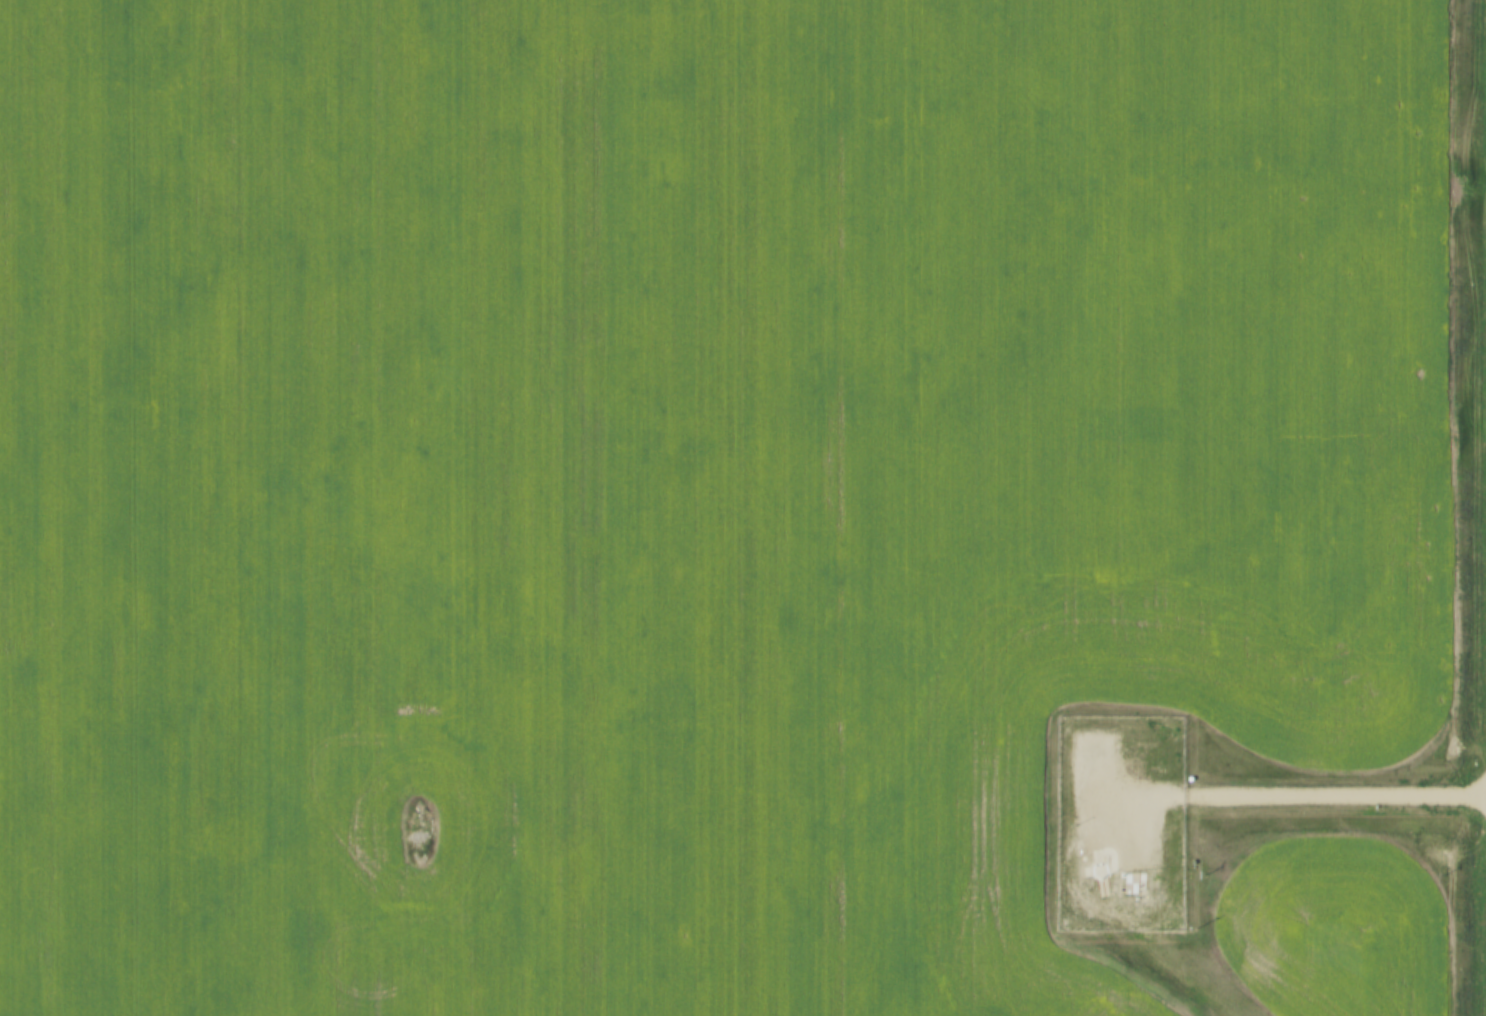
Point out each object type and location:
road: (1337, 798)

